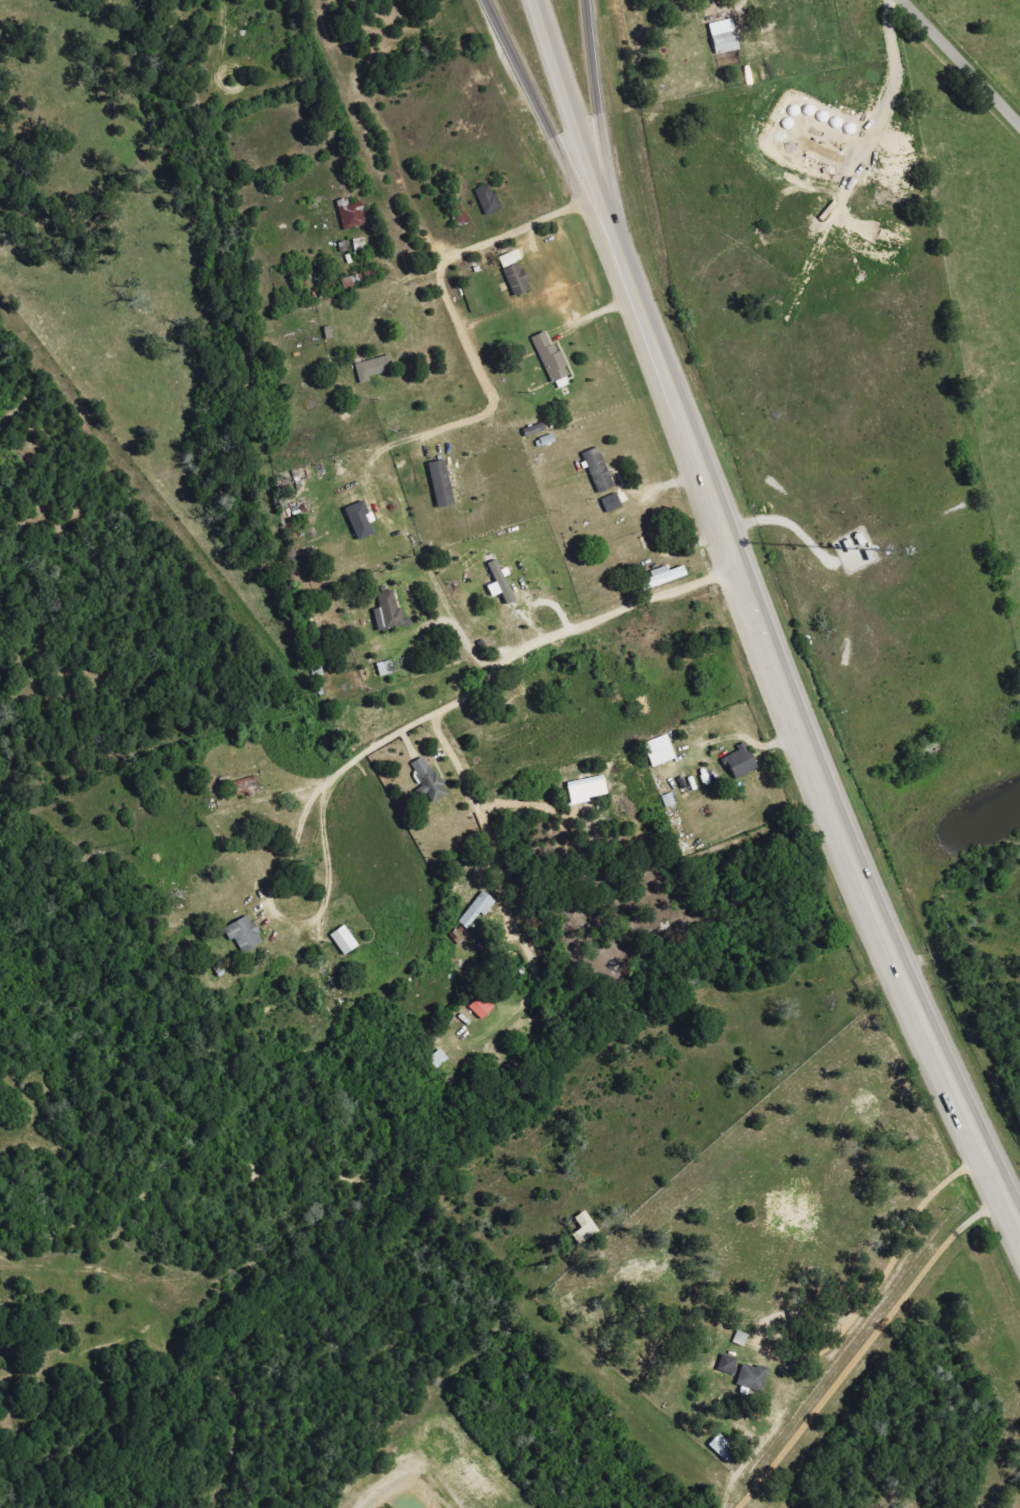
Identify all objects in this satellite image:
building: (725, 37)
road: (960, 63)
road: (593, 94)
road: (566, 95)
road: (546, 128)
building: (489, 200)
building: (353, 214)
road: (607, 219)
road: (481, 241)
building: (360, 244)
building: (518, 280)
road: (594, 312)
building: (553, 360)
building: (374, 369)
building: (600, 471)
building: (443, 484)
building: (613, 503)
building: (361, 520)
building: (664, 577)
building: (502, 583)
road: (447, 596)
building: (389, 612)
road: (511, 658)
road: (806, 743)
building: (661, 751)
building: (742, 762)
building: (429, 780)
building: (248, 784)
building: (477, 911)
building: (246, 935)
building: (460, 936)
building: (345, 941)
building: (483, 1008)
road: (889, 1258)
building: (741, 1339)
road: (867, 1345)
building: (728, 1365)
building: (752, 1378)
building: (724, 1448)

